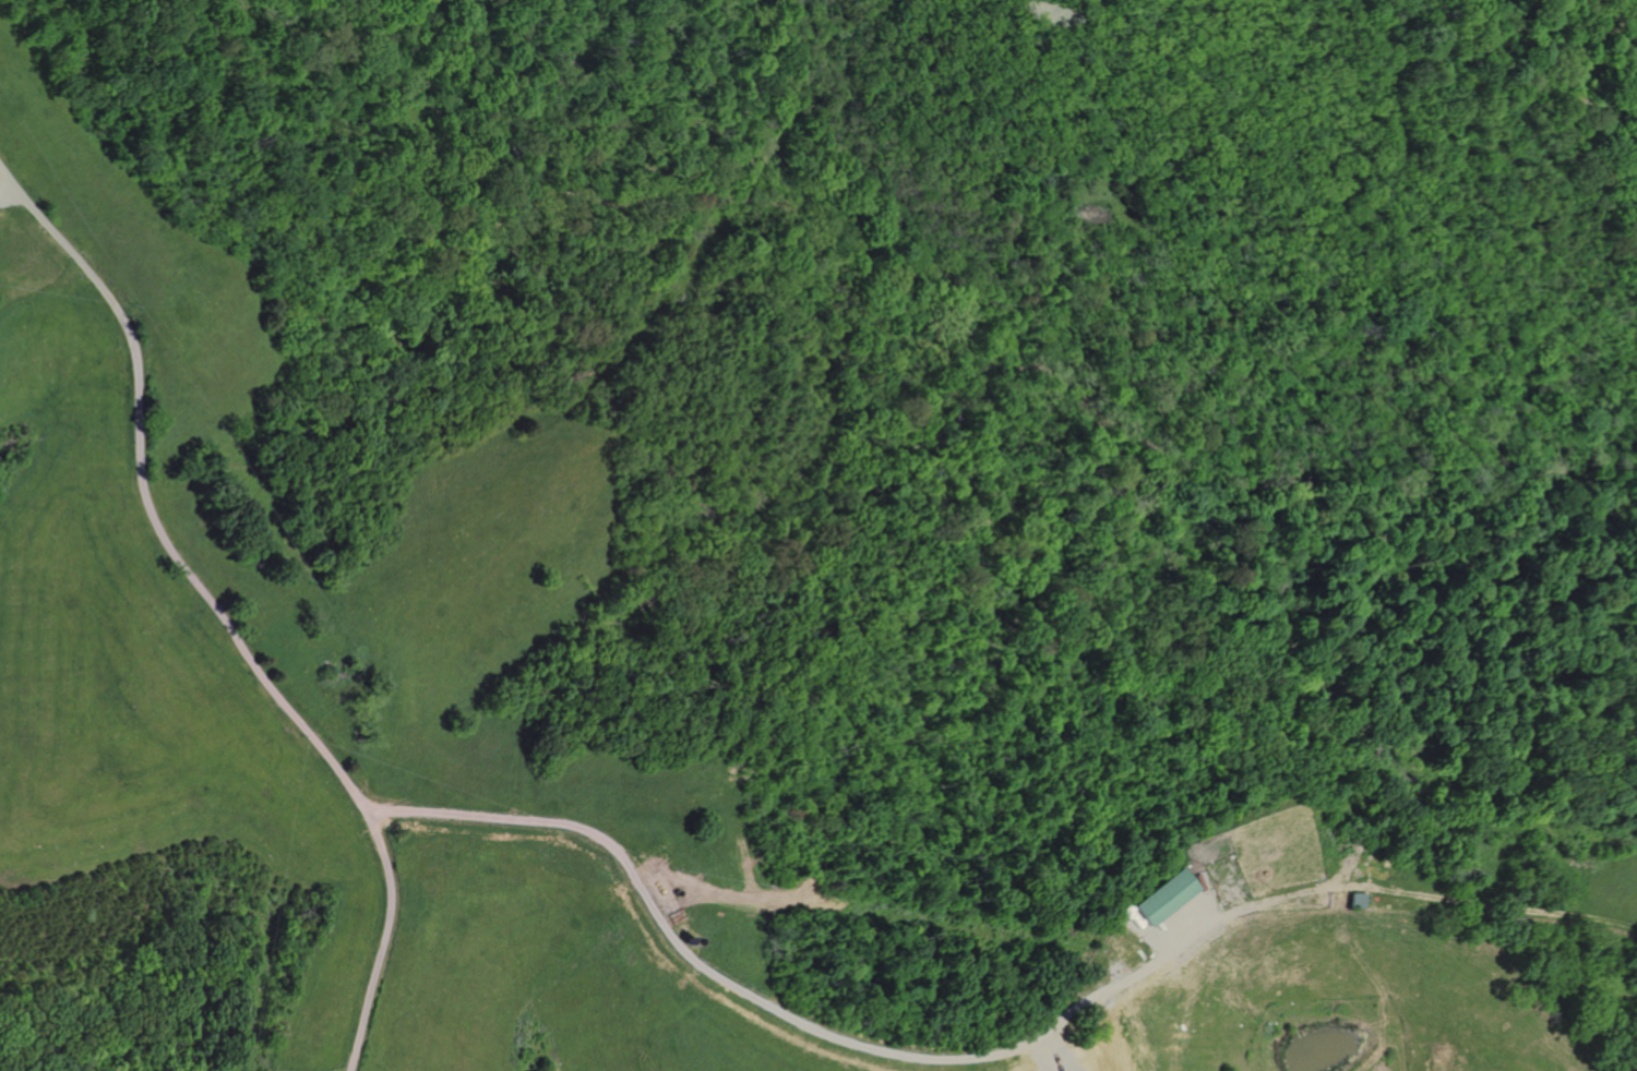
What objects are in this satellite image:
road: (7, 192)
road: (218, 616)
building: (657, 883)
road: (1424, 896)
building: (1163, 898)
building: (1355, 902)
road: (1196, 927)
road: (777, 1011)
road: (1048, 1052)

